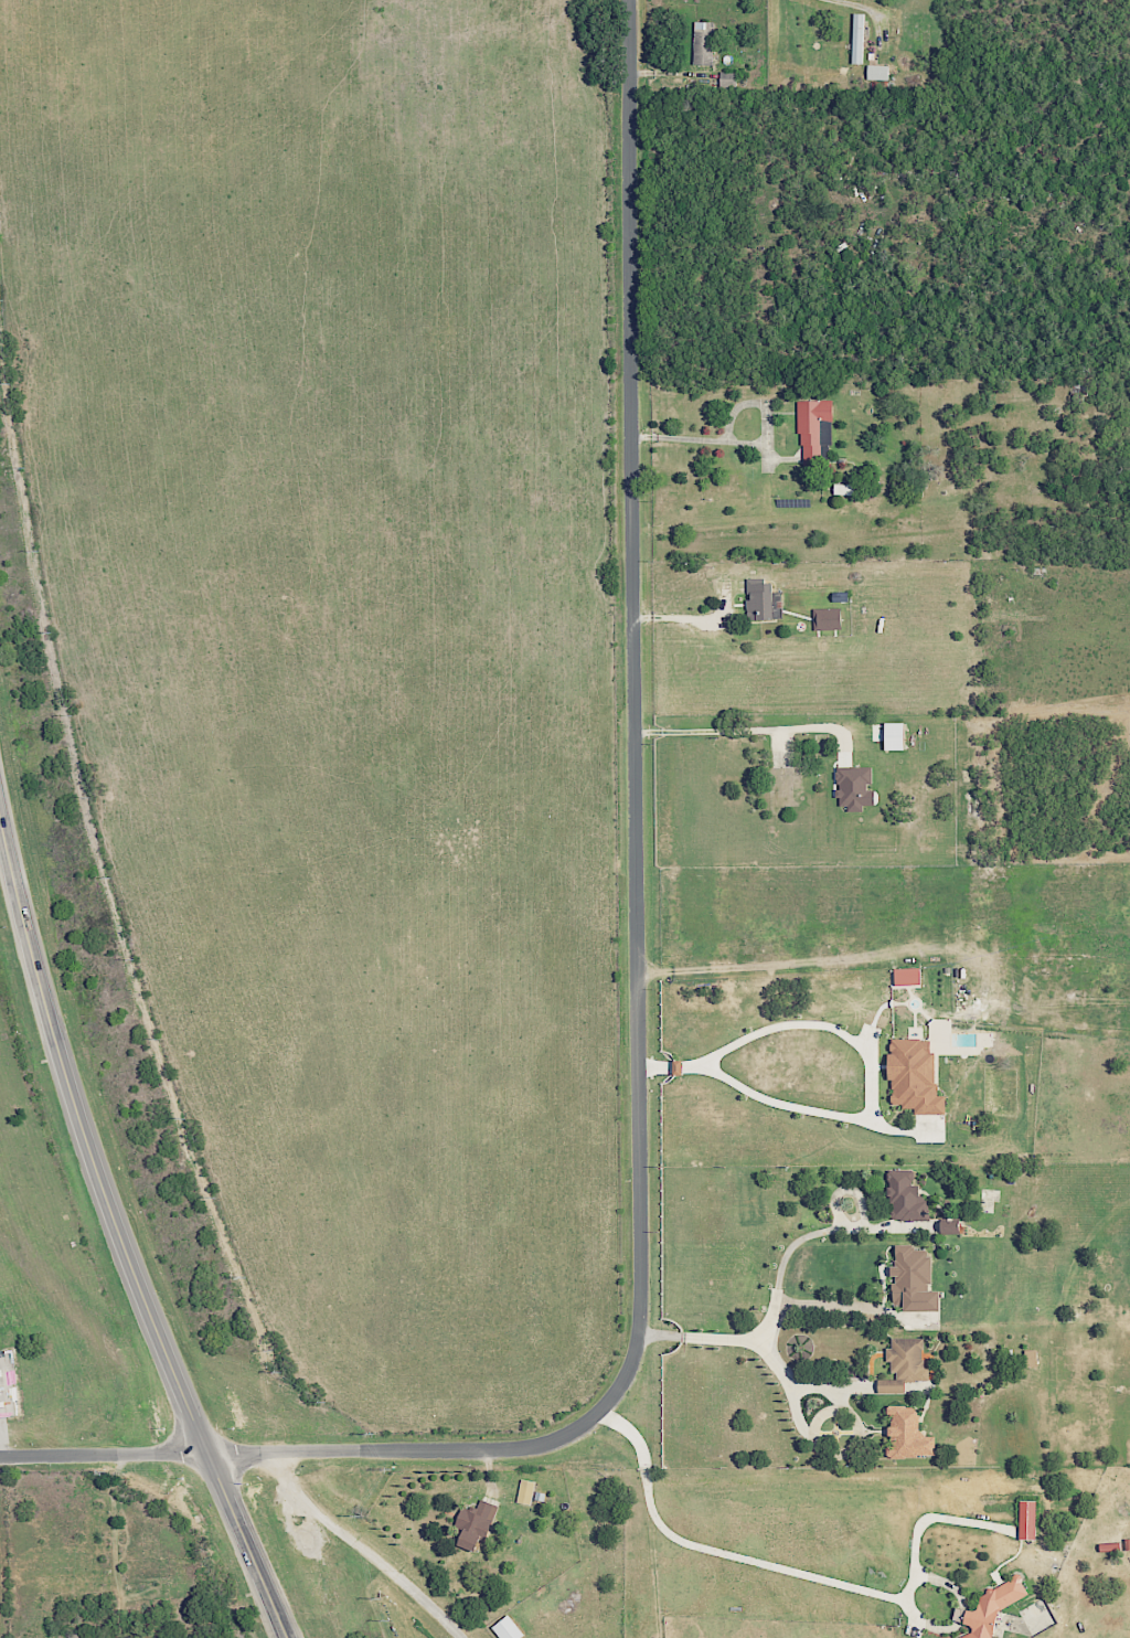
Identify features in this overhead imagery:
road: (866, 9)
building: (860, 38)
building: (706, 42)
building: (880, 72)
building: (814, 429)
road: (748, 443)
building: (846, 489)
building: (764, 600)
building: (831, 618)
road: (711, 730)
building: (898, 736)
building: (857, 788)
road: (638, 913)
road: (864, 1051)
building: (918, 1076)
building: (908, 1195)
building: (956, 1225)
road: (119, 1241)
building: (920, 1278)
road: (777, 1279)
building: (1033, 1358)
building: (907, 1363)
building: (913, 1436)
road: (104, 1455)
building: (527, 1490)
building: (1031, 1519)
building: (480, 1524)
road: (115, 1545)
road: (360, 1547)
road: (793, 1572)
building: (996, 1606)
building: (510, 1628)

